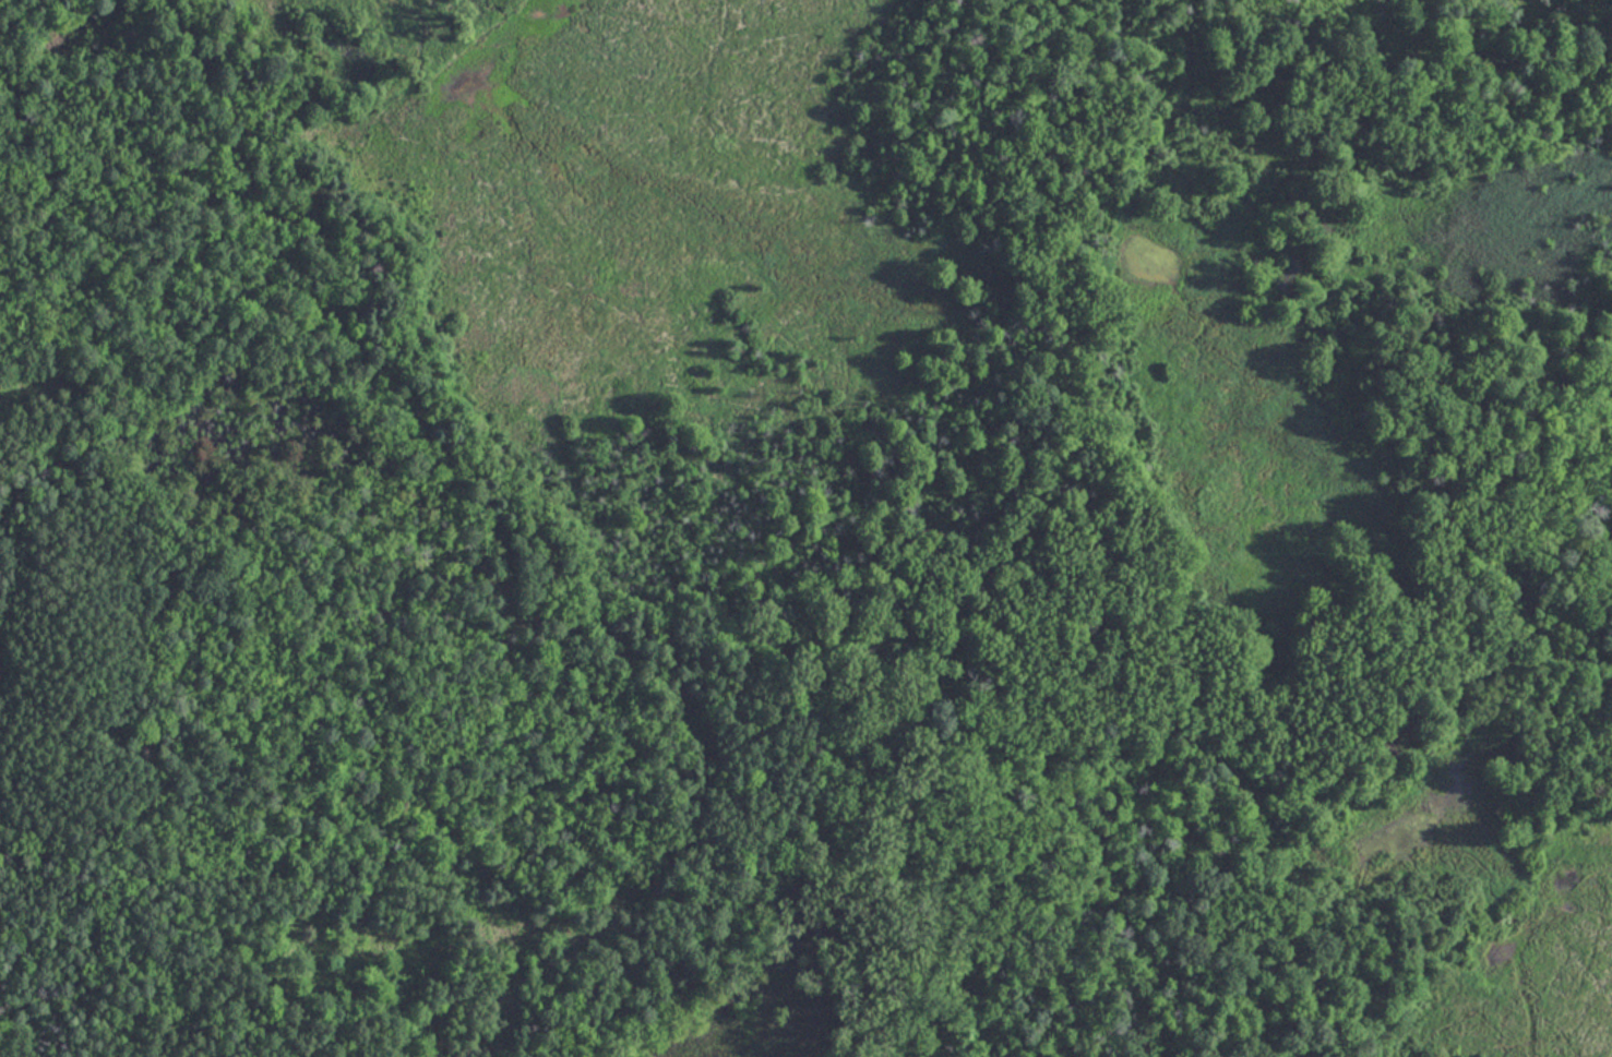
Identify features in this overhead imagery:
park: (805, 528)

